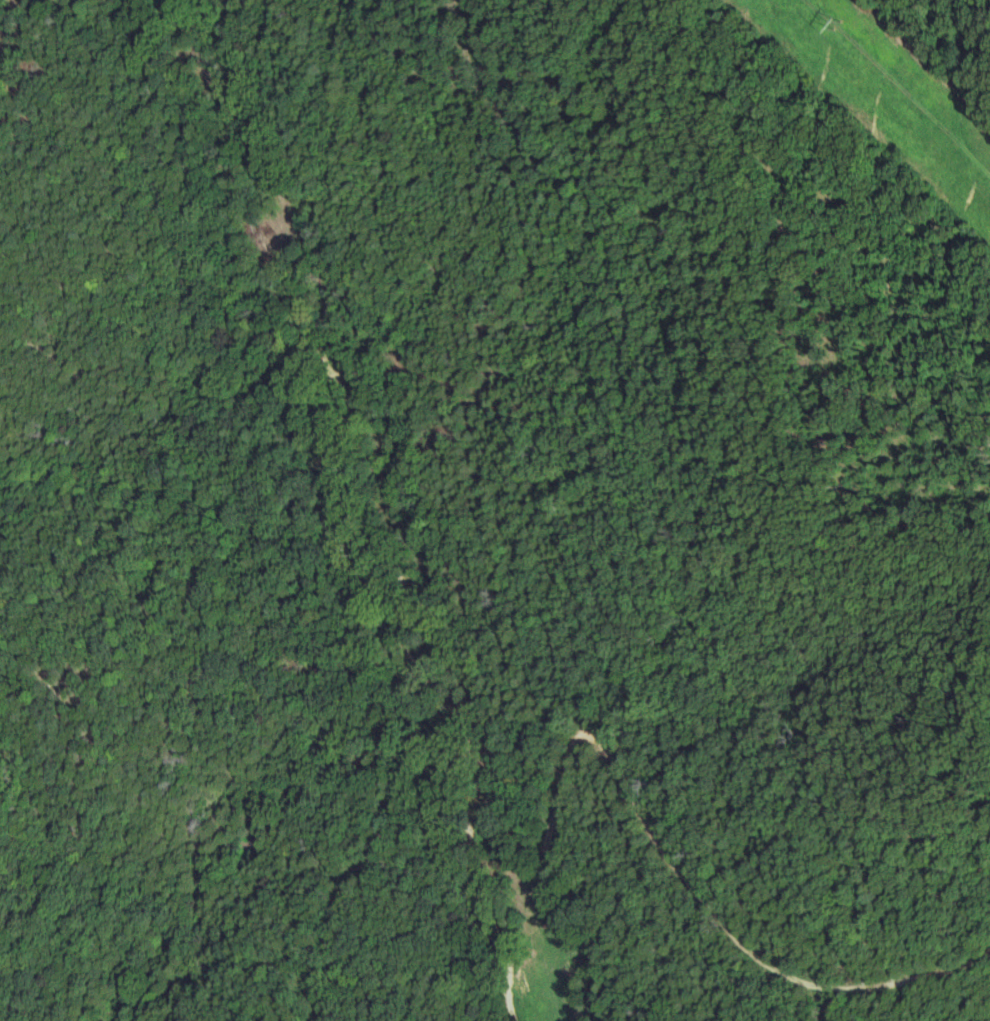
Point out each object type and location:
power tower: (837, 27)

